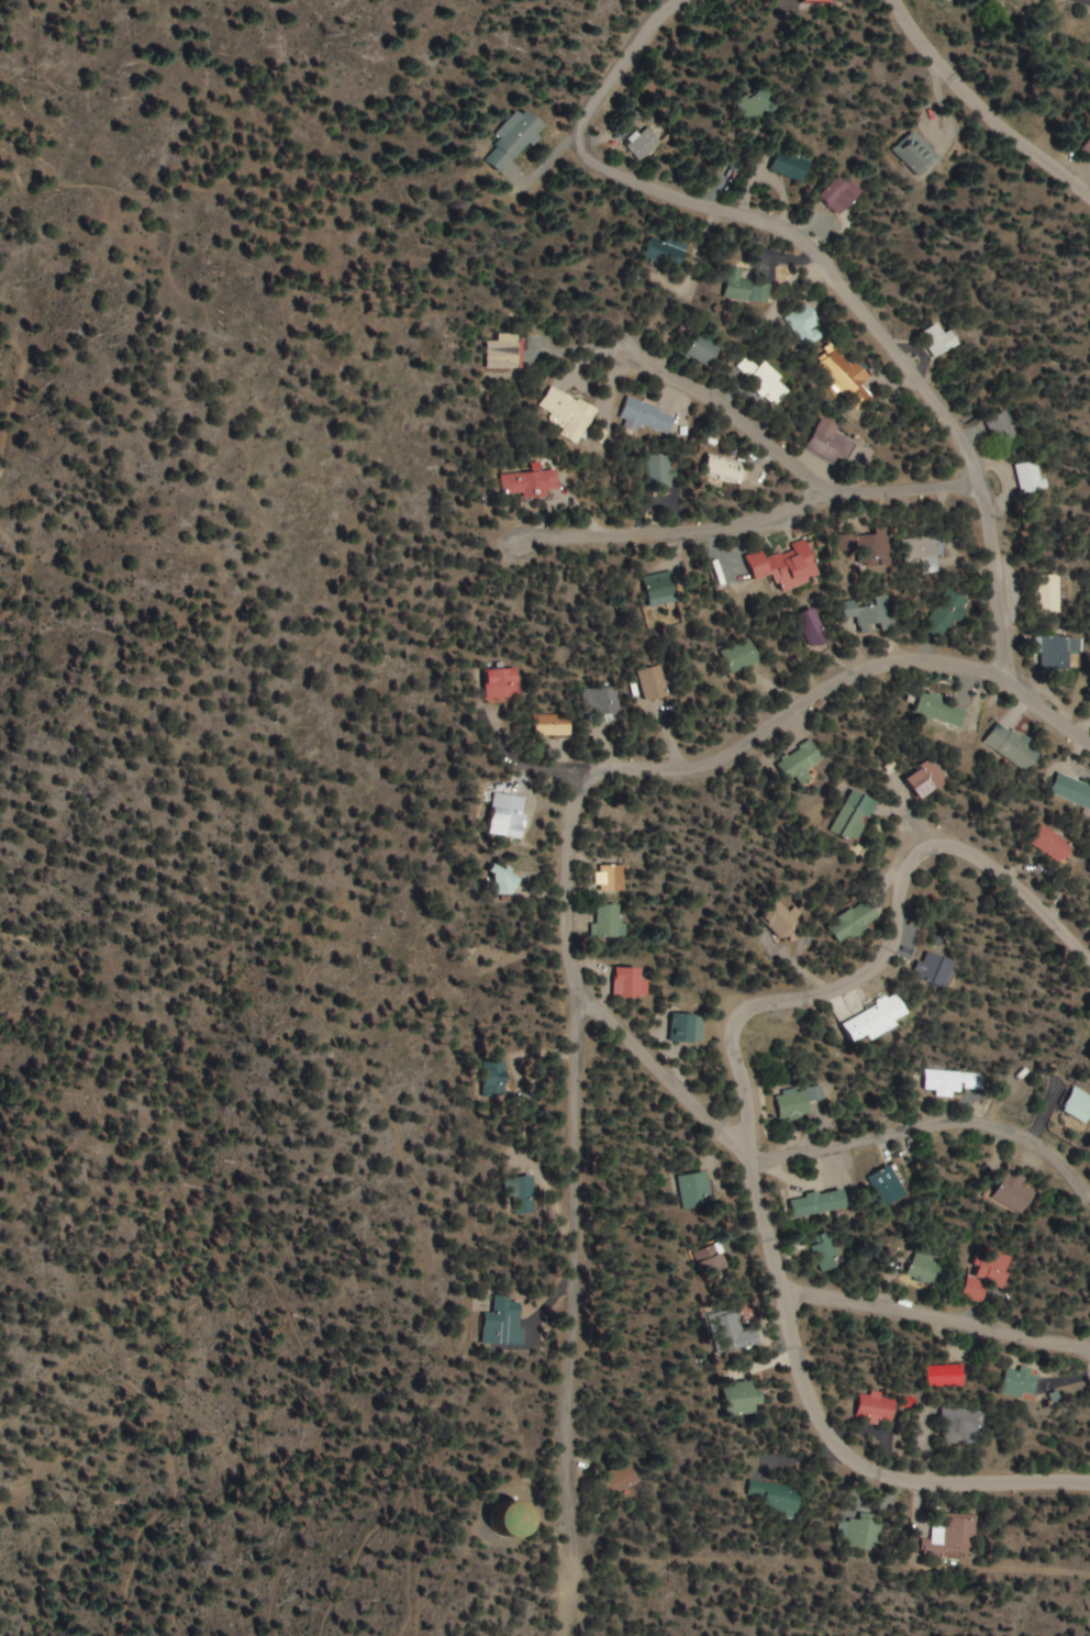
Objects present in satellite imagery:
building: (819, 1)
road: (599, 91)
building: (758, 103)
road: (982, 110)
building: (511, 141)
building: (641, 145)
building: (1087, 152)
building: (916, 153)
building: (791, 165)
building: (841, 191)
building: (666, 251)
building: (745, 287)
building: (805, 324)
road: (882, 333)
building: (942, 338)
building: (704, 349)
building: (505, 350)
building: (842, 366)
building: (768, 381)
road: (699, 389)
building: (569, 412)
building: (648, 415)
building: (1005, 426)
building: (828, 444)
building: (723, 464)
building: (659, 469)
building: (1034, 475)
building: (532, 482)
road: (757, 524)
building: (876, 547)
building: (926, 548)
building: (786, 565)
building: (661, 587)
building: (1050, 592)
building: (872, 613)
building: (948, 613)
building: (814, 630)
building: (1058, 649)
building: (743, 655)
building: (504, 681)
building: (654, 682)
building: (604, 700)
road: (801, 705)
building: (943, 709)
road: (86, 712)
building: (555, 724)
building: (1016, 745)
building: (801, 761)
building: (930, 778)
building: (1081, 793)
road: (310, 808)
building: (857, 814)
building: (1054, 843)
building: (613, 877)
building: (505, 878)
building: (785, 917)
building: (612, 920)
building: (857, 921)
building: (938, 968)
building: (631, 982)
building: (879, 1019)
building: (686, 1027)
road: (663, 1067)
building: (496, 1077)
building: (960, 1082)
building: (798, 1102)
building: (1080, 1104)
road: (928, 1124)
road: (743, 1127)
road: (578, 1164)
building: (890, 1184)
building: (694, 1190)
building: (1019, 1191)
building: (522, 1194)
building: (820, 1203)
building: (825, 1250)
building: (926, 1269)
building: (989, 1272)
road: (937, 1321)
building: (499, 1323)
building: (735, 1329)
building: (946, 1376)
building: (1020, 1383)
building: (742, 1398)
building: (877, 1409)
building: (963, 1425)
building: (623, 1480)
building: (774, 1495)
building: (513, 1518)
building: (865, 1532)
building: (954, 1536)
road: (567, 1595)

